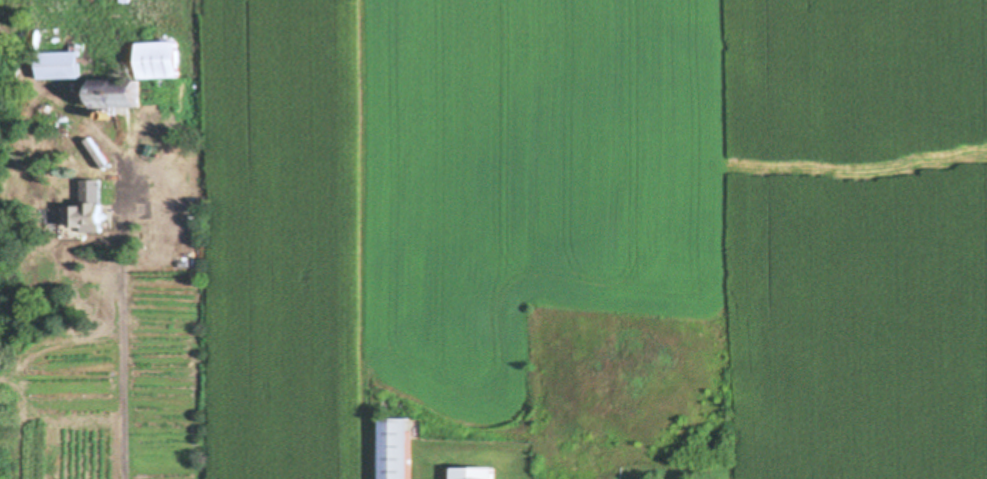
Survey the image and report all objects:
building: (60, 54)
building: (160, 60)
building: (122, 100)
building: (86, 216)
crop: (594, 217)
road: (119, 340)
building: (397, 448)
building: (474, 473)

